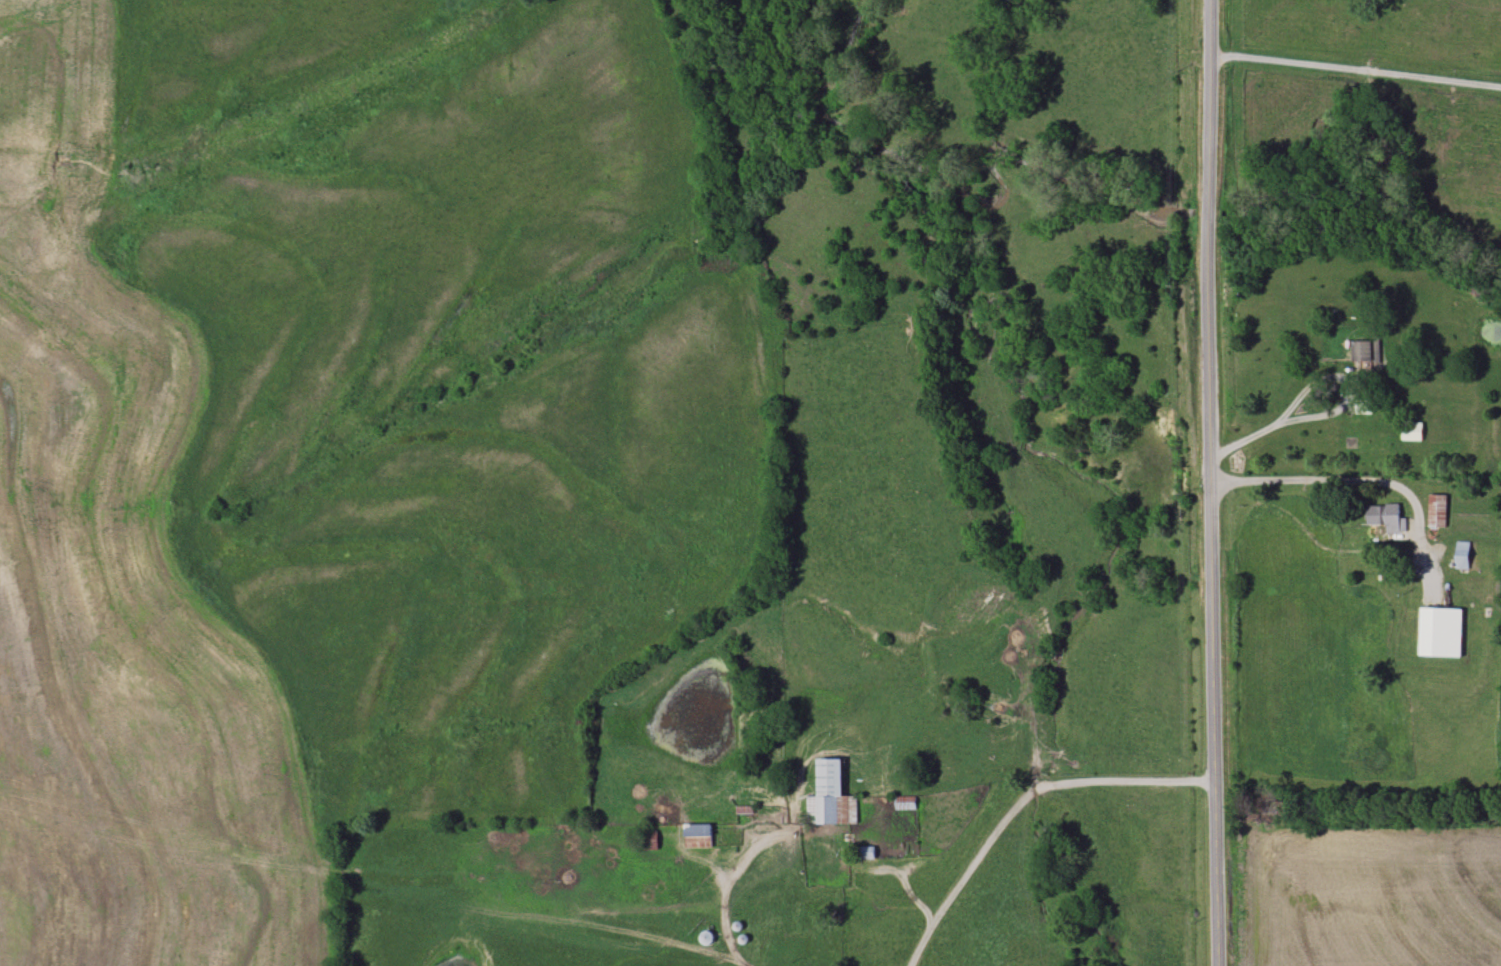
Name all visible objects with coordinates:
road: (1355, 68)
building: (1366, 350)
road: (1305, 400)
building: (1412, 431)
road: (1253, 438)
road: (1213, 483)
road: (1348, 483)
building: (1437, 511)
building: (1384, 516)
building: (1462, 554)
building: (1440, 632)
building: (828, 795)
road: (1025, 797)
building: (697, 836)
road: (732, 915)

